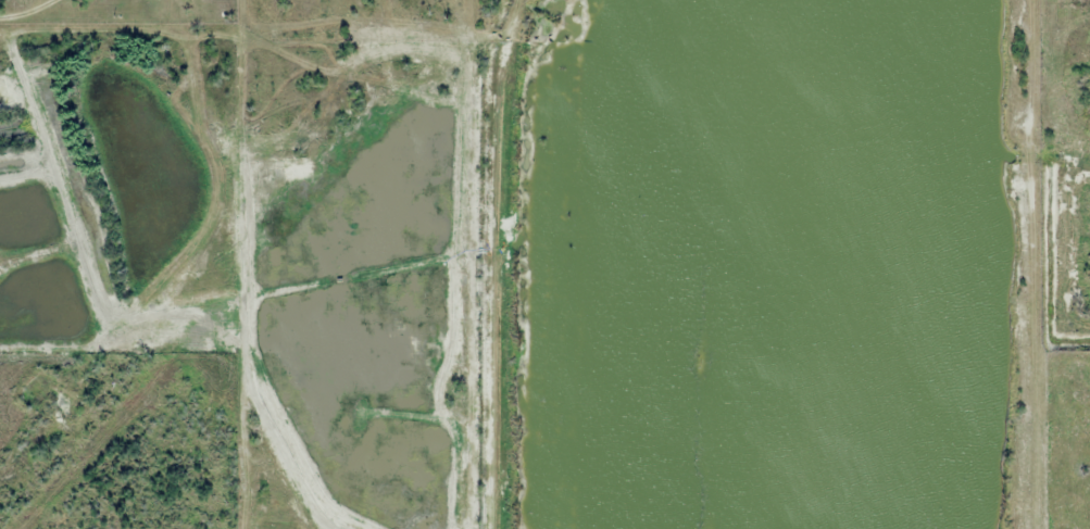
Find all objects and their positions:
road: (25, 10)

